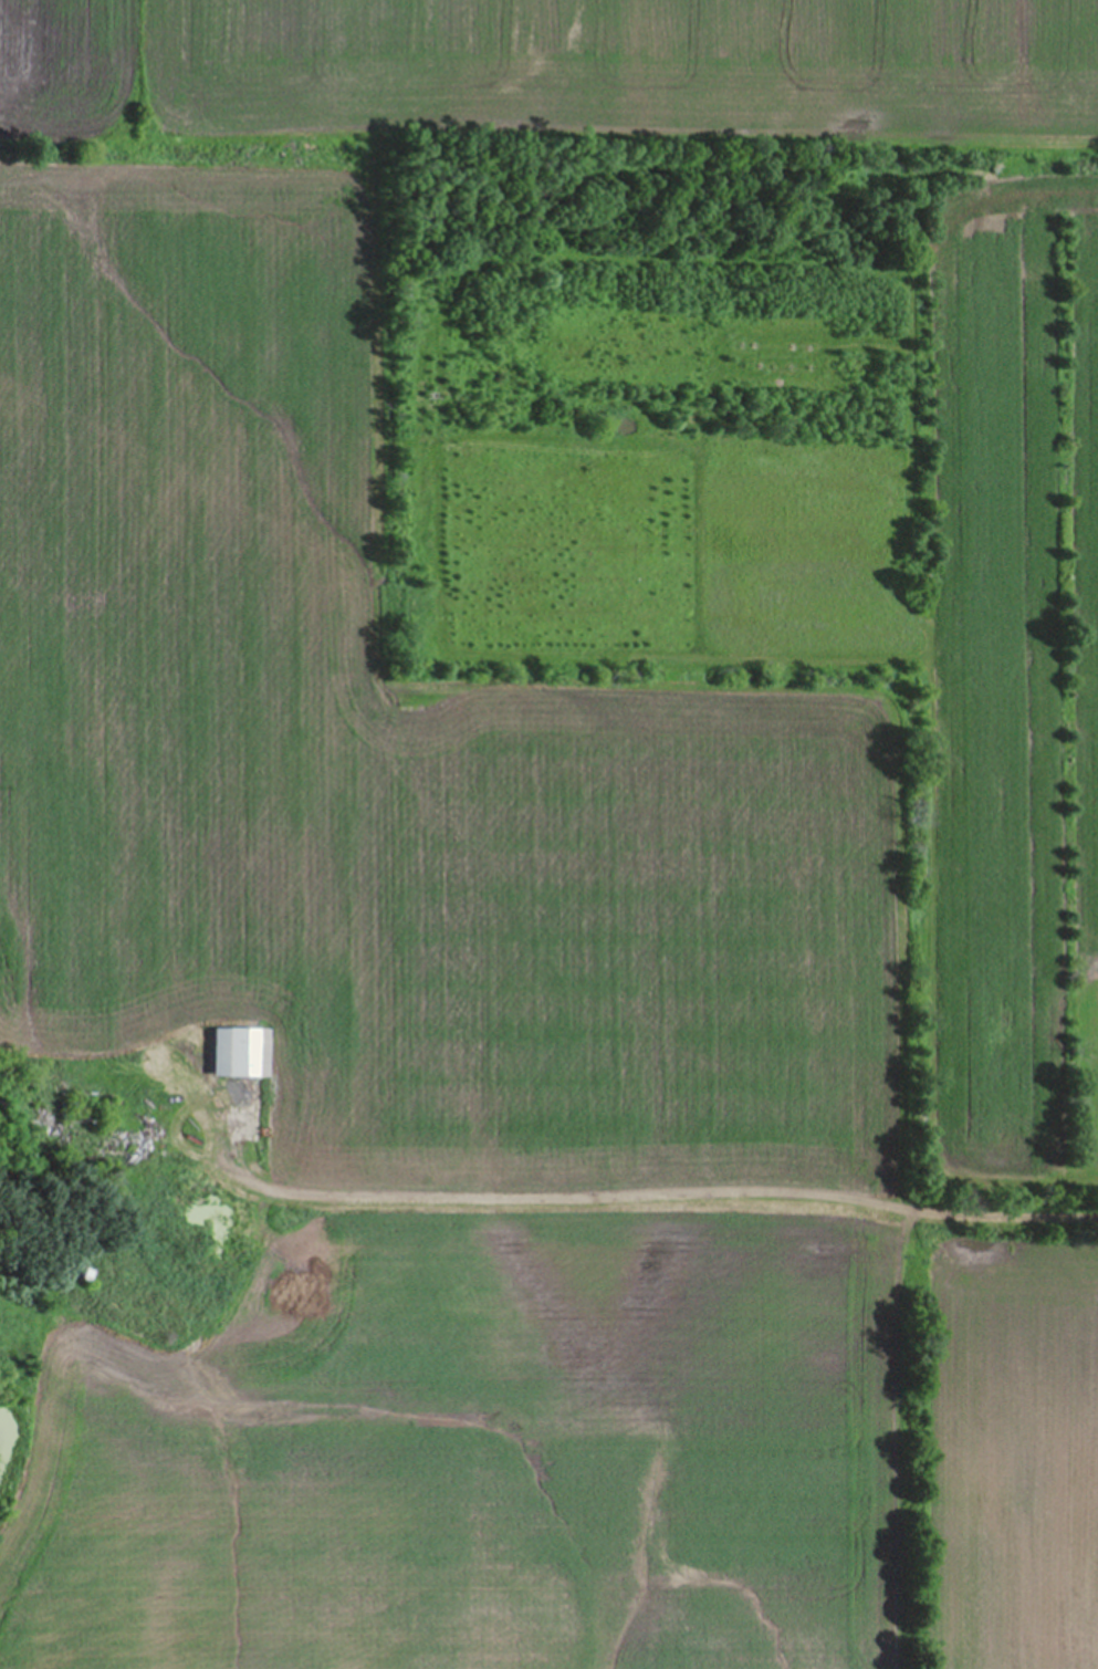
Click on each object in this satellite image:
building: (241, 1052)
road: (666, 1169)

